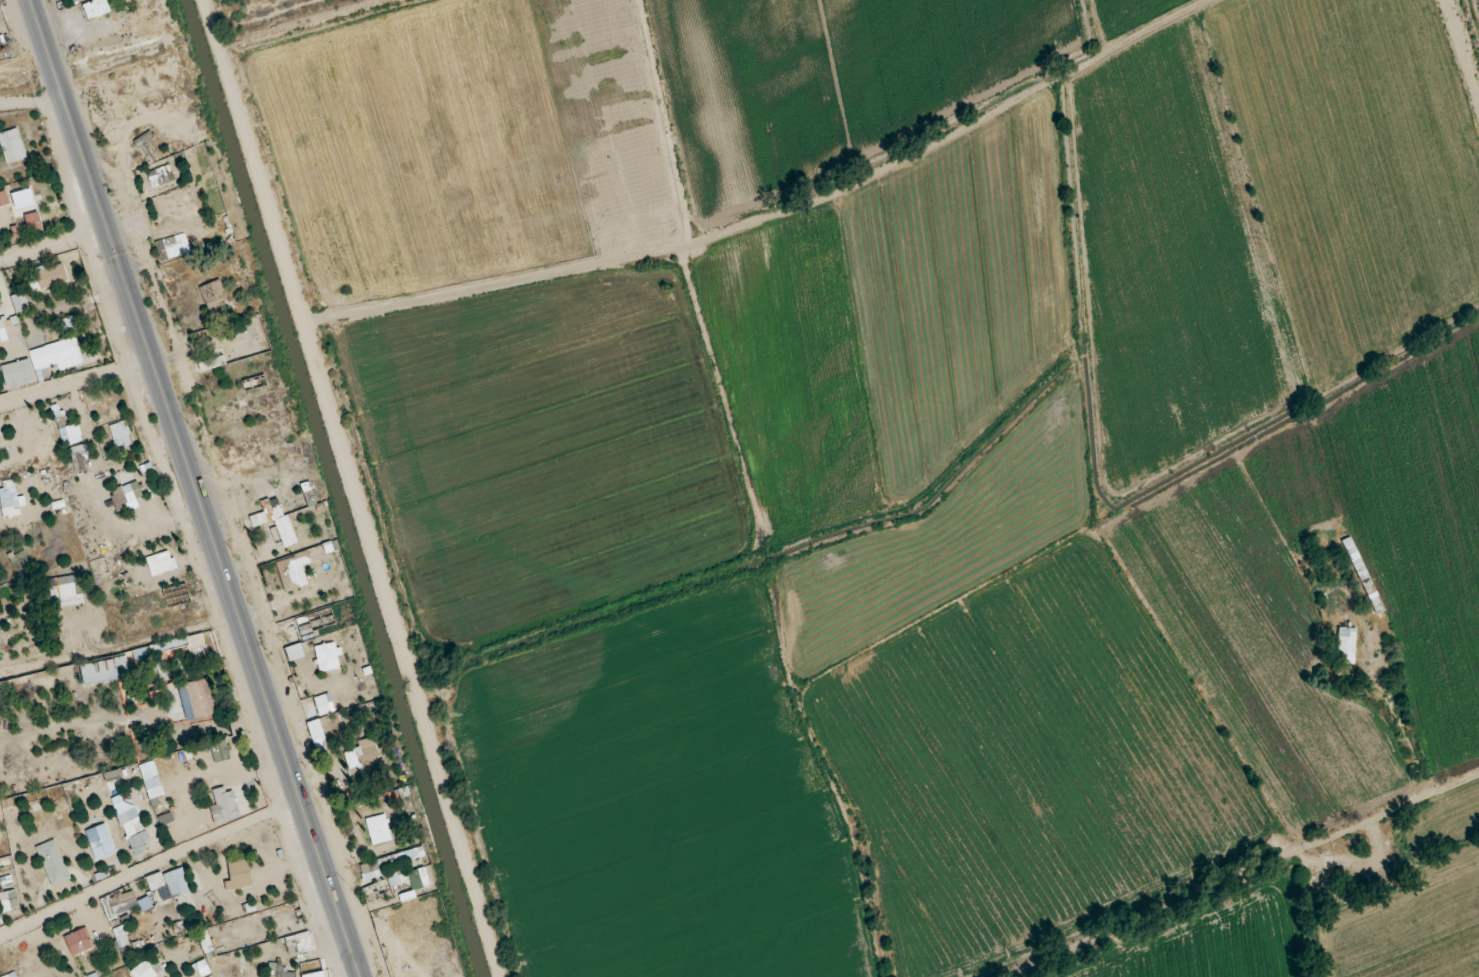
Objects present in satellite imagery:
building: (1345, 639)
road: (1276, 859)

